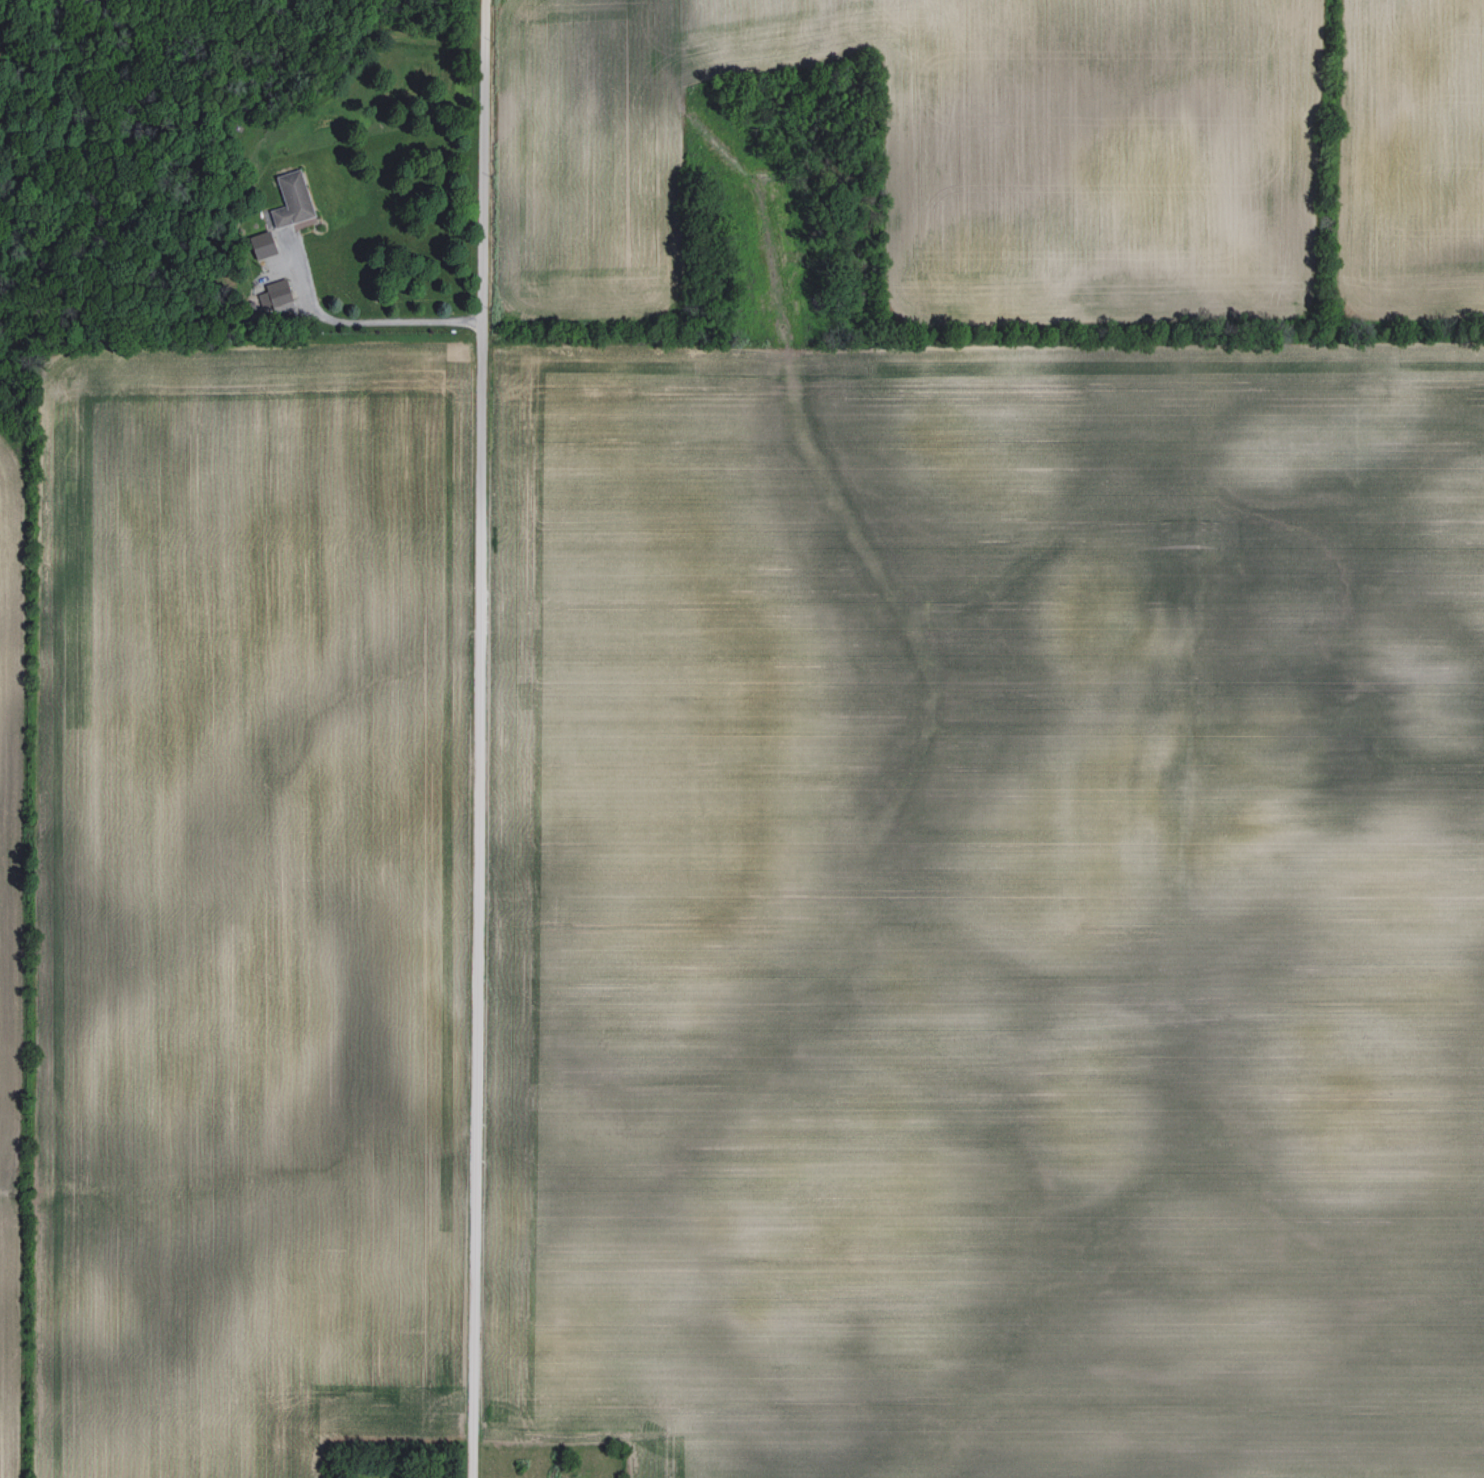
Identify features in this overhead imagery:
building: (289, 199)
building: (259, 244)
building: (275, 296)
road: (335, 323)
road: (476, 738)

